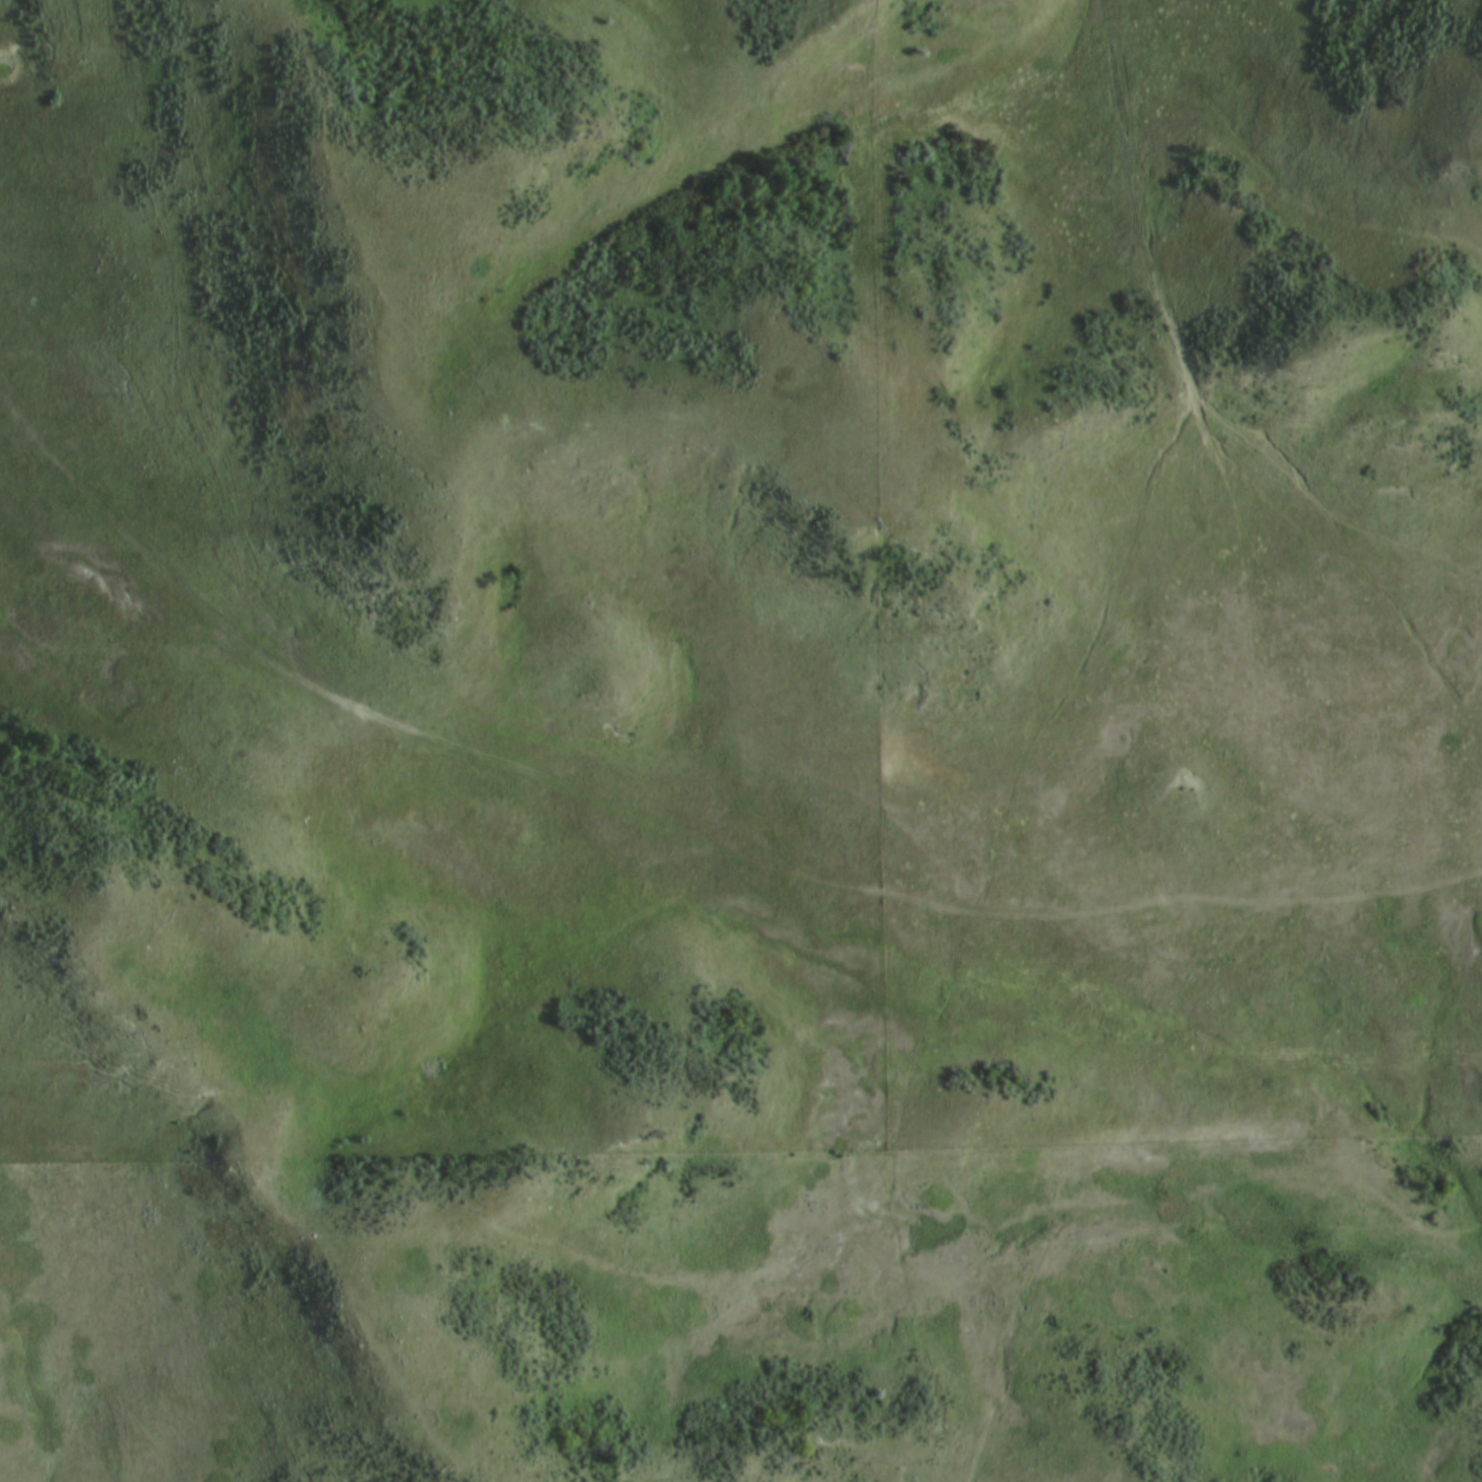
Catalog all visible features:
road: (828, 886)

